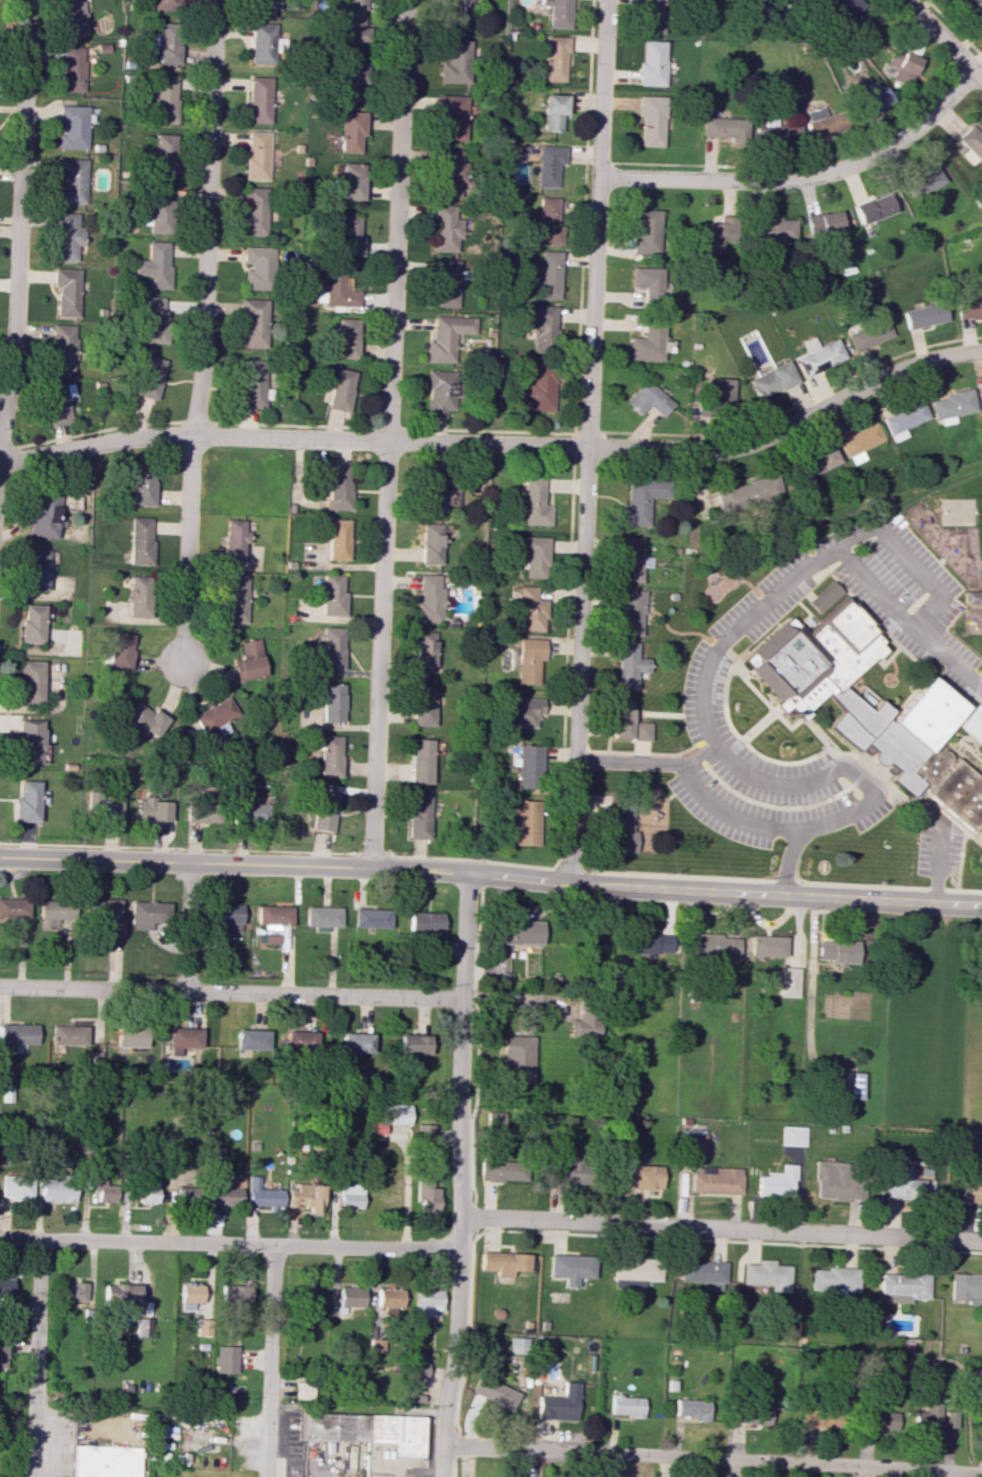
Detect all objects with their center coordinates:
building: (166, 5)
building: (265, 5)
building: (971, 8)
building: (840, 9)
building: (559, 13)
building: (456, 14)
building: (653, 16)
building: (72, 17)
building: (354, 22)
road: (954, 28)
road: (942, 40)
building: (165, 42)
building: (263, 43)
building: (555, 58)
building: (454, 61)
building: (651, 63)
building: (903, 64)
building: (73, 69)
building: (352, 80)
building: (163, 96)
building: (872, 97)
building: (260, 99)
building: (554, 111)
building: (452, 116)
building: (650, 120)
building: (820, 122)
building: (75, 126)
building: (723, 129)
building: (351, 131)
building: (776, 135)
building: (971, 144)
building: (164, 154)
building: (258, 155)
building: (549, 164)
building: (449, 172)
road: (804, 177)
building: (73, 181)
building: (352, 181)
building: (923, 182)
building: (873, 208)
building: (159, 209)
road: (19, 211)
building: (255, 211)
road: (584, 216)
building: (547, 221)
building: (824, 223)
building: (445, 229)
building: (773, 230)
building: (645, 231)
building: (349, 235)
building: (716, 235)
building: (68, 237)
building: (155, 265)
building: (257, 267)
building: (547, 276)
building: (445, 283)
building: (647, 284)
building: (336, 290)
building: (67, 291)
building: (969, 307)
building: (924, 315)
building: (155, 320)
building: (254, 322)
building: (544, 328)
road: (203, 333)
building: (869, 335)
building: (344, 337)
building: (447, 337)
building: (649, 341)
building: (62, 348)
building: (819, 355)
building: (150, 377)
building: (772, 380)
building: (252, 384)
building: (338, 387)
building: (538, 387)
building: (440, 392)
building: (720, 394)
building: (648, 399)
building: (980, 400)
building: (58, 403)
road: (794, 405)
building: (952, 406)
building: (904, 420)
road: (293, 426)
road: (99, 431)
road: (489, 431)
road: (386, 433)
road: (588, 434)
road: (589, 434)
building: (859, 442)
road: (500, 443)
road: (575, 445)
building: (817, 461)
building: (142, 484)
building: (336, 487)
building: (439, 492)
building: (746, 493)
building: (640, 500)
building: (534, 502)
park: (956, 512)
building: (44, 514)
building: (233, 538)
building: (336, 538)
building: (139, 541)
building: (430, 543)
building: (536, 557)
building: (630, 559)
road: (911, 565)
building: (36, 570)
road: (822, 574)
road: (720, 577)
road: (740, 581)
building: (139, 596)
building: (333, 596)
building: (824, 596)
building: (971, 597)
building: (429, 598)
building: (233, 599)
road: (824, 606)
building: (529, 610)
building: (630, 612)
road: (825, 620)
building: (32, 623)
road: (678, 633)
road: (898, 644)
road: (720, 646)
building: (332, 648)
building: (120, 650)
building: (424, 652)
road: (714, 655)
road: (567, 658)
building: (821, 658)
road: (890, 658)
building: (249, 661)
building: (528, 661)
building: (628, 665)
road: (895, 670)
road: (981, 675)
building: (31, 682)
parking lot: (704, 682)
road: (978, 687)
road: (910, 693)
building: (332, 702)
building: (422, 707)
building: (522, 711)
building: (213, 715)
building: (144, 718)
building: (621, 718)
road: (806, 720)
road: (729, 723)
building: (640, 731)
road: (948, 731)
road: (958, 737)
building: (30, 741)
building: (920, 744)
road: (957, 745)
road: (641, 752)
road: (698, 753)
building: (328, 755)
road: (963, 757)
building: (421, 761)
road: (628, 761)
road: (783, 763)
building: (527, 766)
road: (979, 766)
road: (926, 797)
building: (28, 801)
building: (102, 807)
road: (771, 807)
building: (151, 809)
building: (251, 812)
building: (323, 812)
building: (199, 813)
road: (728, 815)
building: (418, 816)
building: (526, 822)
building: (621, 830)
building: (981, 835)
road: (963, 841)
parking lot: (938, 844)
road: (180, 848)
road: (373, 854)
road: (565, 859)
road: (576, 860)
road: (475, 861)
road: (787, 862)
road: (939, 862)
road: (491, 874)
road: (570, 876)
road: (779, 880)
building: (13, 907)
building: (54, 912)
building: (104, 915)
building: (150, 915)
building: (225, 917)
building: (371, 918)
building: (272, 921)
building: (425, 922)
road: (187, 927)
building: (516, 932)
building: (649, 942)
building: (716, 945)
building: (766, 945)
building: (836, 951)
road: (810, 973)
building: (788, 982)
road: (230, 992)
road: (511, 999)
building: (585, 1023)
building: (18, 1035)
building: (67, 1035)
building: (129, 1036)
building: (181, 1039)
building: (250, 1039)
building: (298, 1042)
building: (356, 1042)
building: (413, 1044)
building: (517, 1061)
building: (853, 1085)
building: (497, 1121)
building: (424, 1134)
building: (792, 1135)
building: (693, 1143)
building: (51, 1145)
building: (214, 1157)
building: (500, 1170)
building: (570, 1171)
road: (460, 1175)
building: (639, 1176)
building: (716, 1180)
building: (832, 1181)
building: (777, 1182)
building: (906, 1182)
building: (16, 1186)
building: (147, 1186)
building: (176, 1187)
building: (103, 1189)
building: (58, 1190)
building: (971, 1191)
building: (426, 1193)
building: (225, 1195)
building: (263, 1195)
building: (350, 1196)
building: (306, 1197)
road: (721, 1225)
road: (229, 1243)
building: (504, 1262)
building: (571, 1267)
building: (634, 1272)
building: (703, 1273)
building: (766, 1274)
building: (833, 1280)
building: (6, 1286)
building: (902, 1286)
building: (966, 1288)
building: (121, 1292)
building: (75, 1293)
building: (235, 1293)
building: (352, 1296)
building: (192, 1297)
building: (309, 1299)
building: (390, 1299)
building: (427, 1302)
building: (143, 1327)
building: (377, 1345)
building: (518, 1345)
building: (2, 1352)
road: (34, 1357)
building: (226, 1359)
road: (269, 1361)
building: (418, 1369)
building: (302, 1390)
building: (495, 1392)
building: (560, 1404)
building: (626, 1405)
building: (691, 1409)
building: (751, 1415)
building: (933, 1418)
building: (814, 1419)
building: (881, 1420)
building: (981, 1421)
building: (366, 1430)
road: (712, 1457)
building: (106, 1461)

